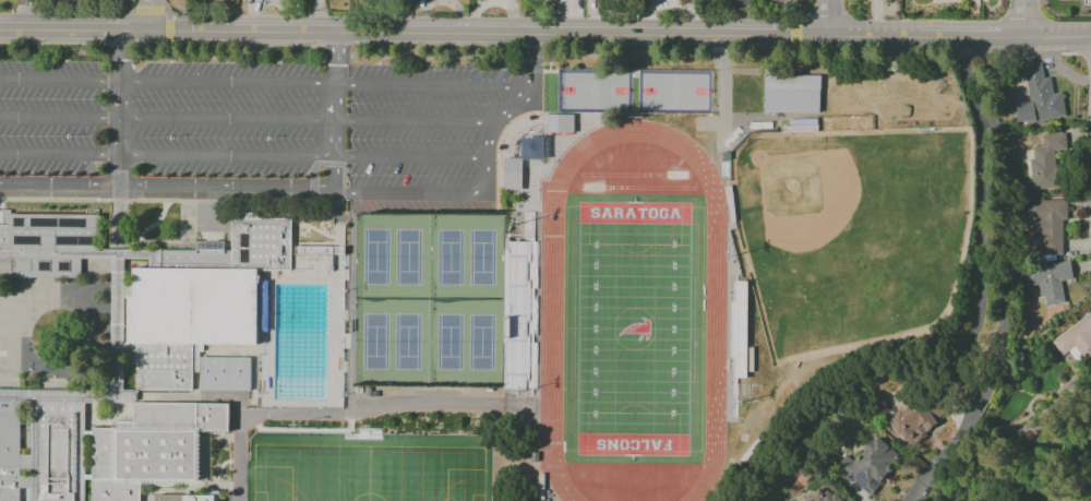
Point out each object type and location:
road: (161, 11)
road: (24, 15)
road: (151, 15)
road: (314, 15)
road: (827, 16)
road: (1021, 17)
road: (544, 33)
road: (538, 47)
road: (532, 60)
road: (60, 82)
road: (326, 84)
park: (595, 92)
park: (674, 92)
building: (791, 94)
building: (1038, 97)
road: (515, 108)
road: (121, 110)
road: (335, 112)
parking lot: (158, 120)
road: (245, 121)
building: (556, 123)
parking lot: (428, 143)
road: (242, 157)
building: (1045, 160)
building: (511, 174)
park: (642, 175)
road: (60, 188)
park: (630, 188)
road: (227, 190)
road: (444, 193)
road: (337, 205)
building: (1045, 226)
park: (855, 236)
building: (46, 244)
park: (376, 258)
park: (408, 258)
park: (451, 258)
park: (481, 258)
building: (313, 259)
road: (981, 275)
building: (1047, 281)
building: (202, 299)
track: (551, 323)
park: (634, 330)
building: (1076, 337)
park: (374, 342)
park: (407, 342)
park: (449, 343)
park: (481, 343)
building: (225, 374)
road: (344, 413)
building: (915, 418)
building: (153, 449)
building: (58, 452)
building: (9, 454)
building: (868, 465)
park: (368, 473)
park: (367, 475)
building: (823, 496)
building: (184, 499)

